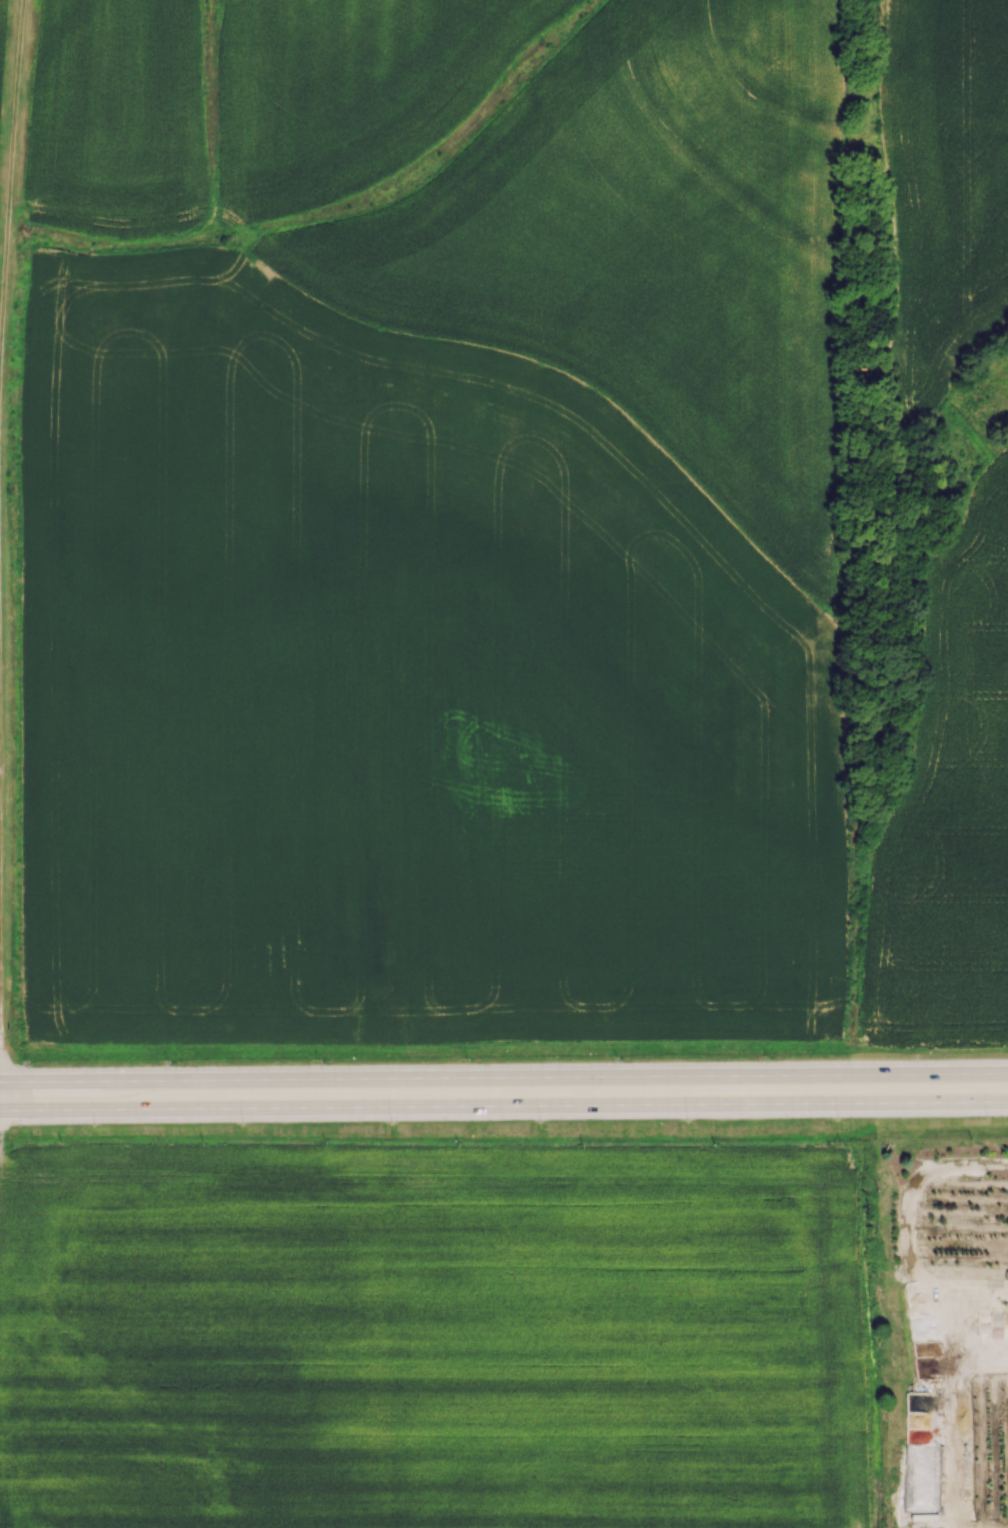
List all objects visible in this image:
road: (10, 177)
crop: (943, 184)
road: (503, 1077)
road: (0, 1096)
road: (503, 1106)
crop: (431, 1338)

